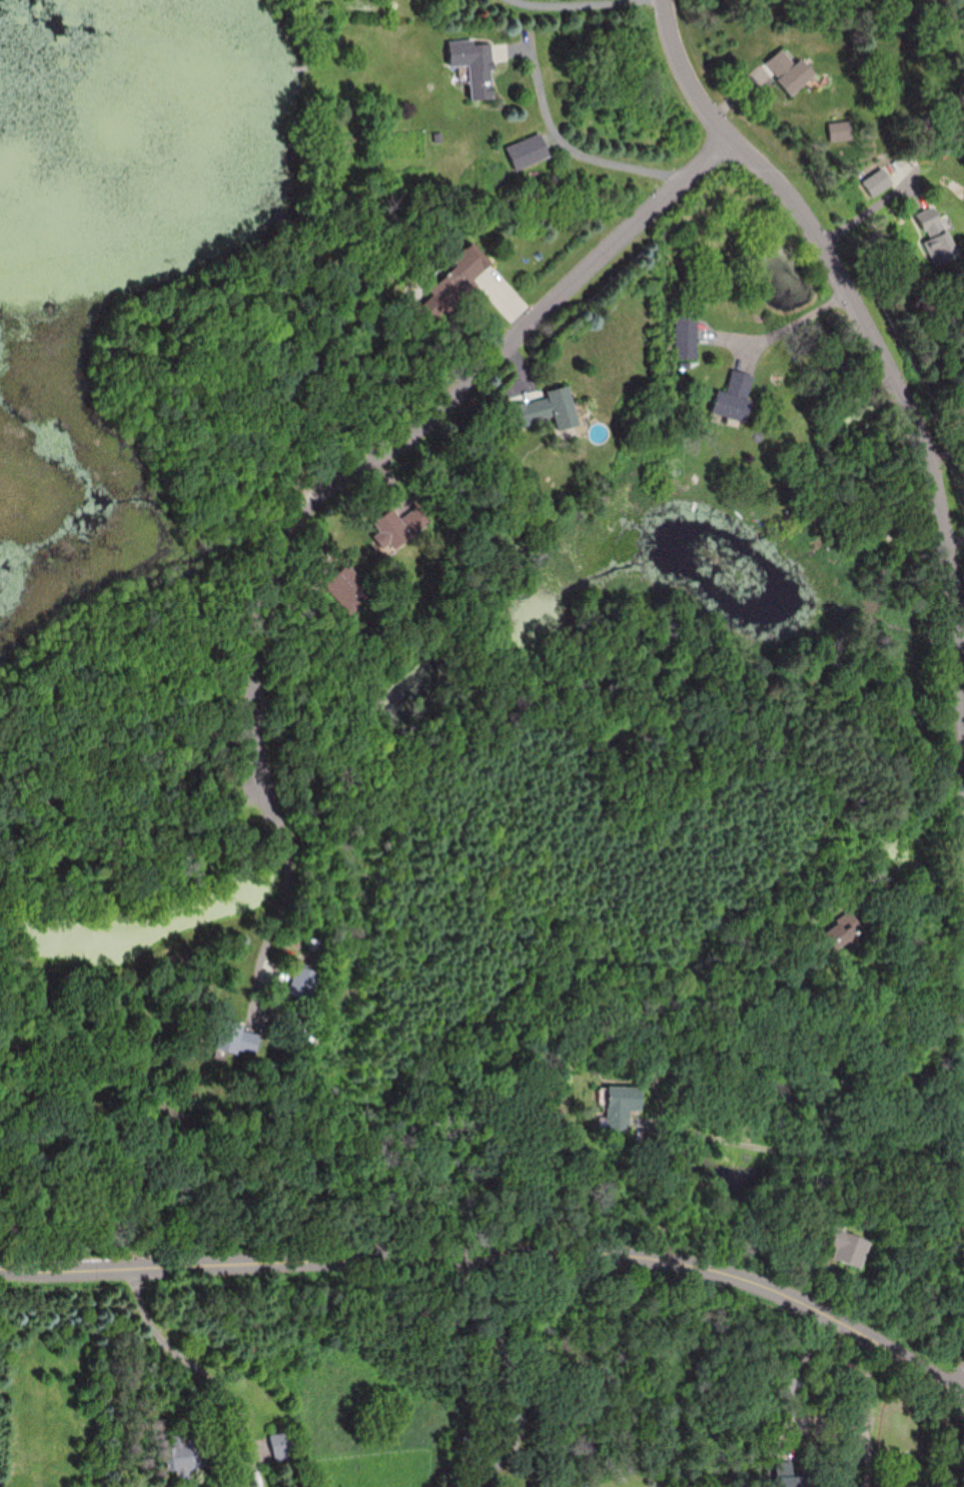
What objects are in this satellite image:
road: (573, 5)
building: (475, 66)
building: (790, 72)
building: (529, 151)
road: (578, 153)
building: (936, 233)
building: (458, 276)
road: (786, 318)
road: (871, 332)
building: (687, 342)
building: (735, 398)
building: (548, 407)
road: (415, 424)
building: (400, 525)
road: (269, 876)
building: (839, 935)
building: (305, 983)
building: (236, 1039)
building: (620, 1104)
road: (809, 1149)
building: (847, 1246)
road: (498, 1257)
road: (219, 1365)
building: (287, 1442)
building: (182, 1459)
building: (798, 1482)

